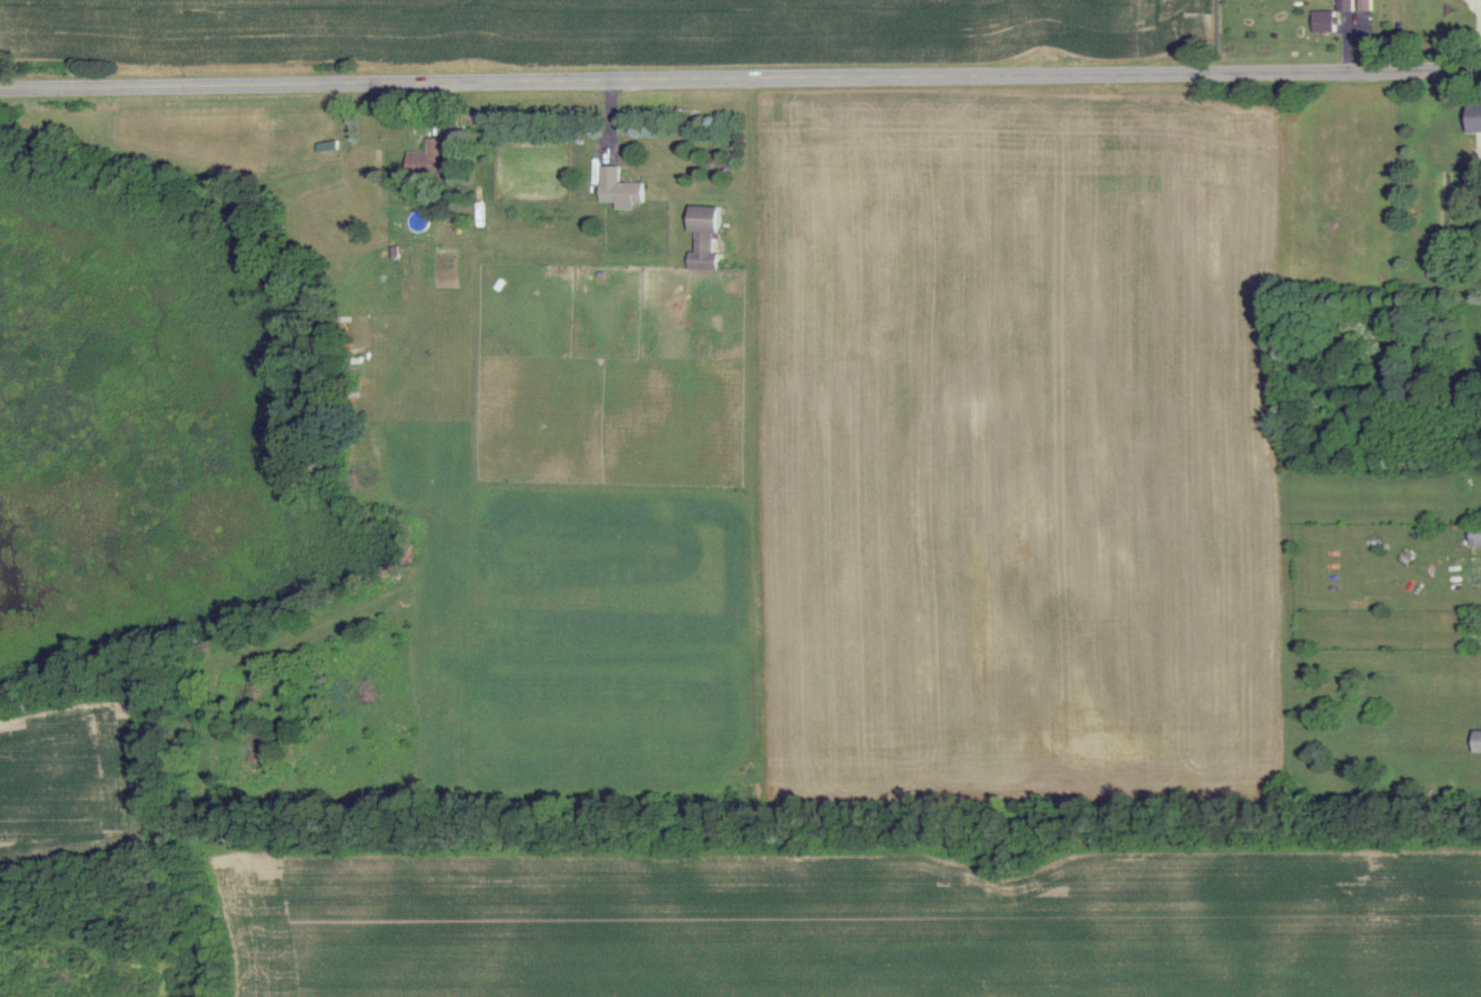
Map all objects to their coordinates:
building: (1326, 16)
building: (1382, 24)
road: (1470, 36)
road: (740, 80)
building: (1474, 115)
building: (426, 158)
building: (617, 185)
building: (702, 236)
building: (1475, 534)
building: (1476, 740)

